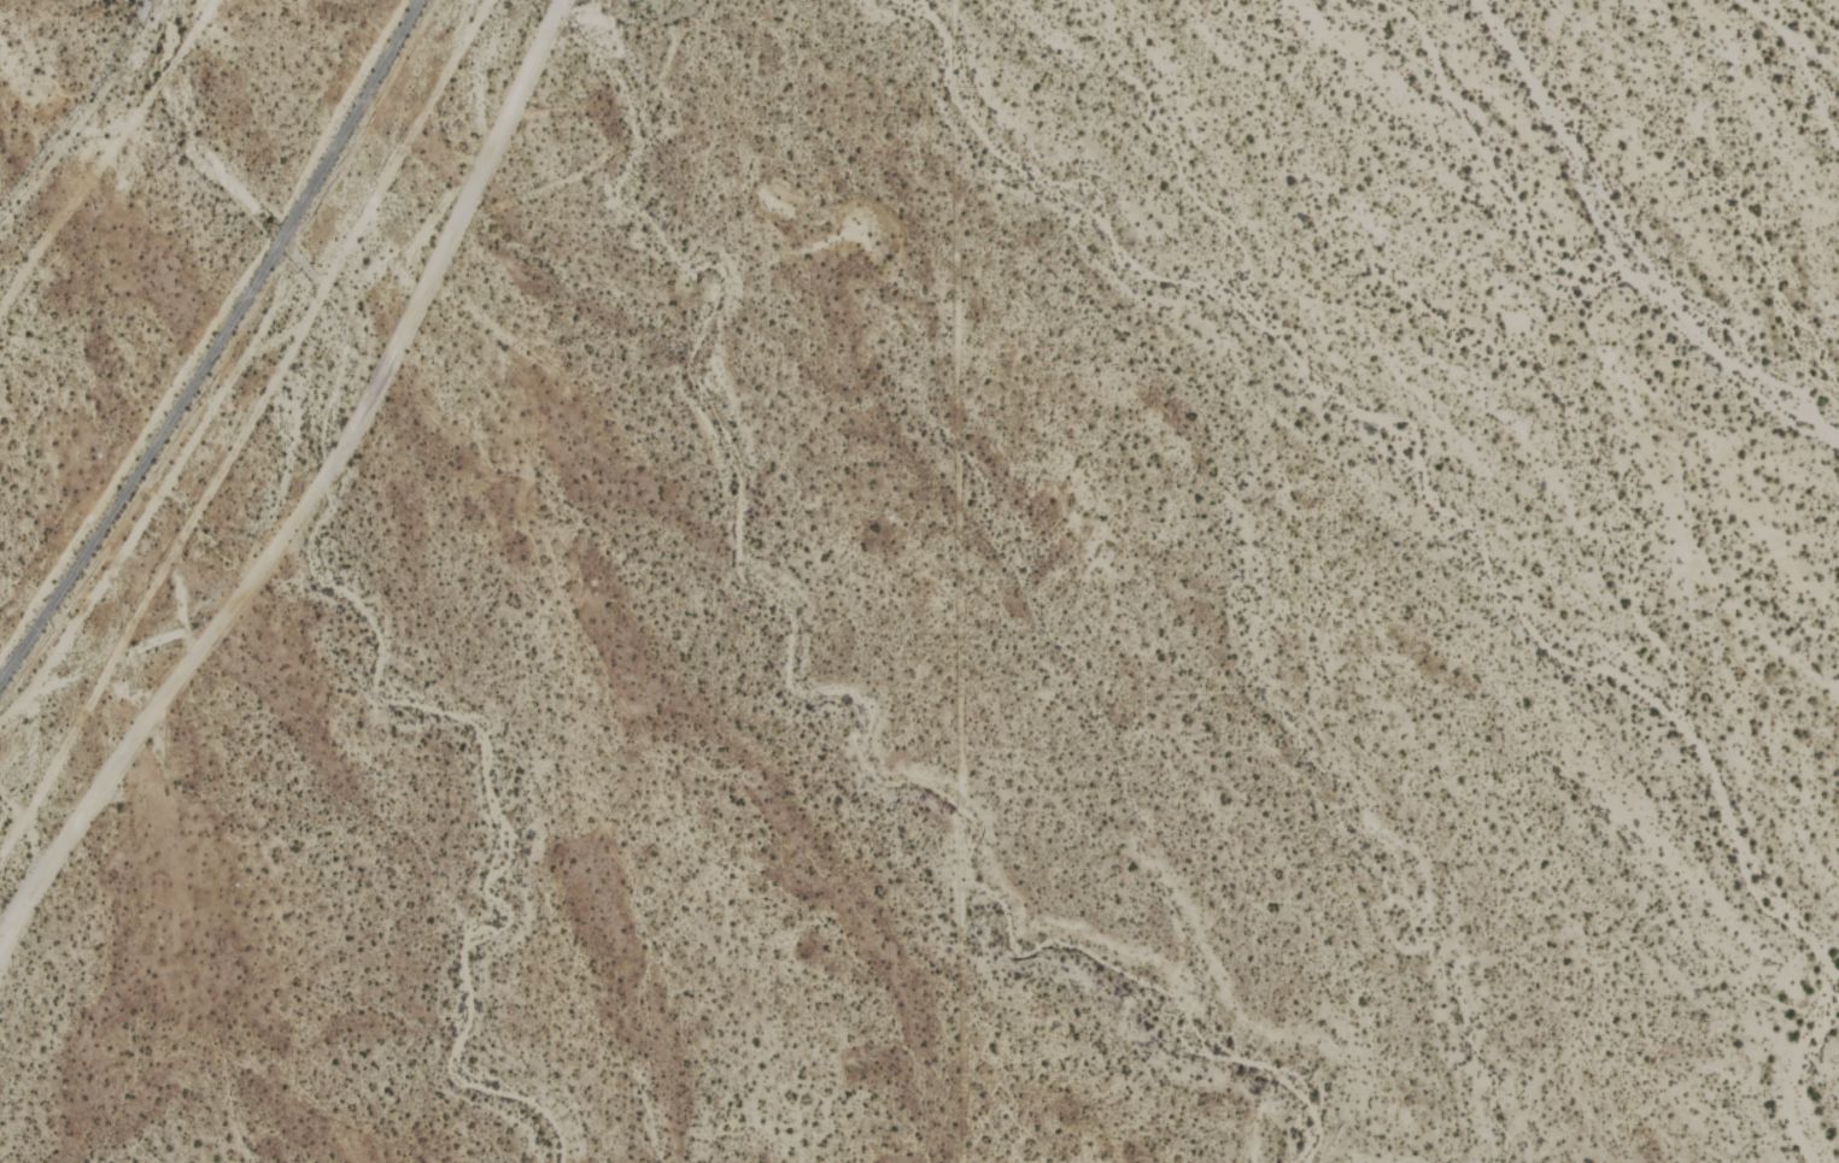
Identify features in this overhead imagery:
road: (103, 151)
railway: (212, 342)
road: (309, 491)

